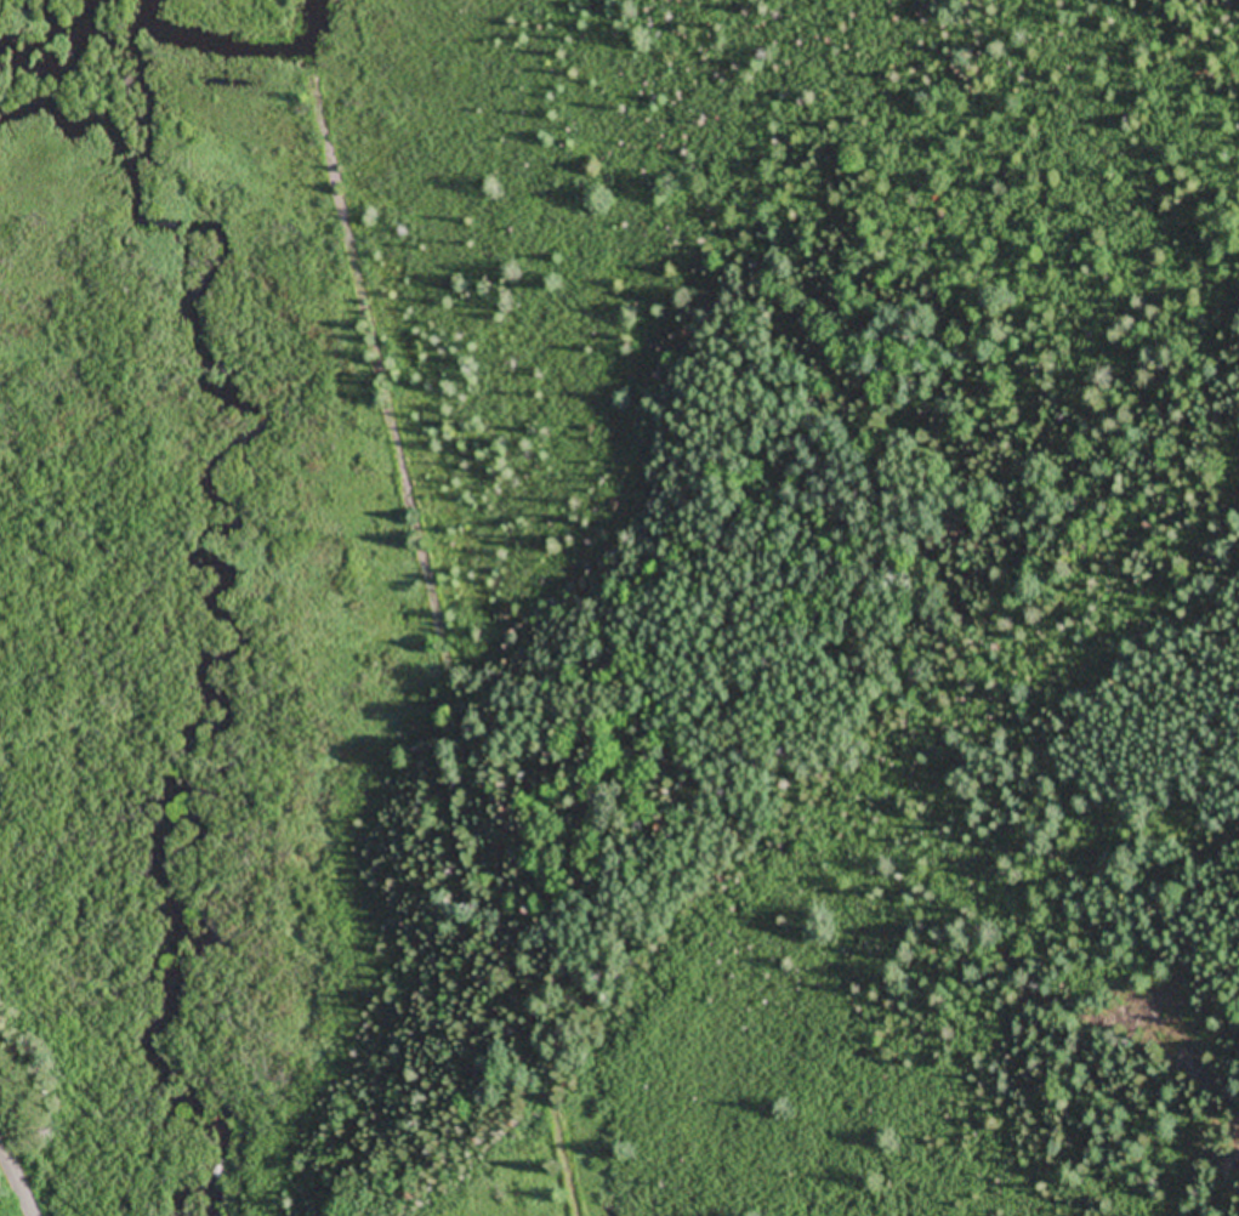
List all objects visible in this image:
road: (16, 1178)

